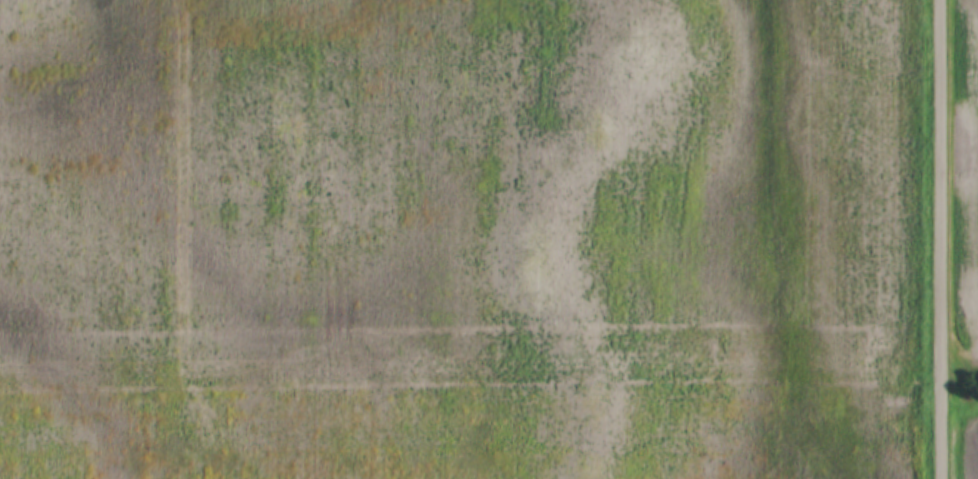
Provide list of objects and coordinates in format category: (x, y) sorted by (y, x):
road: (942, 239)

